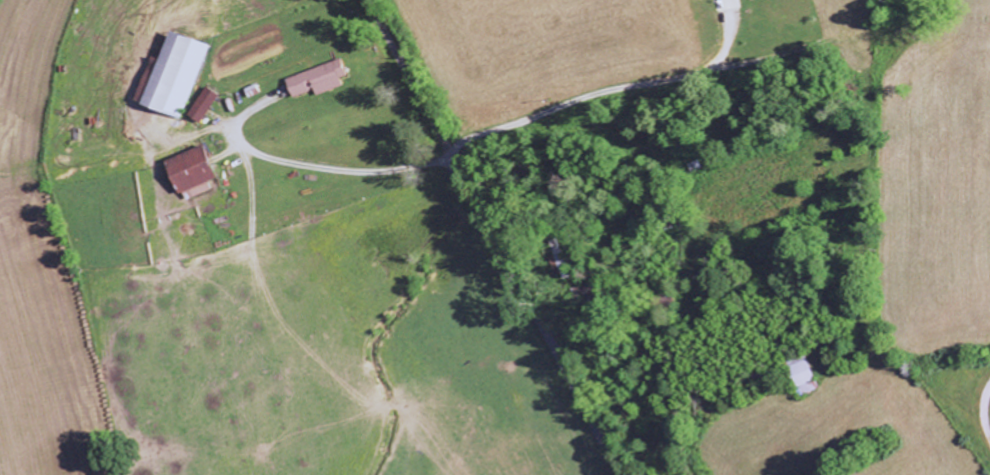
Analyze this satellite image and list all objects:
building: (724, 5)
building: (176, 76)
building: (322, 80)
building: (206, 105)
building: (198, 172)
road: (491, 237)
building: (810, 374)

